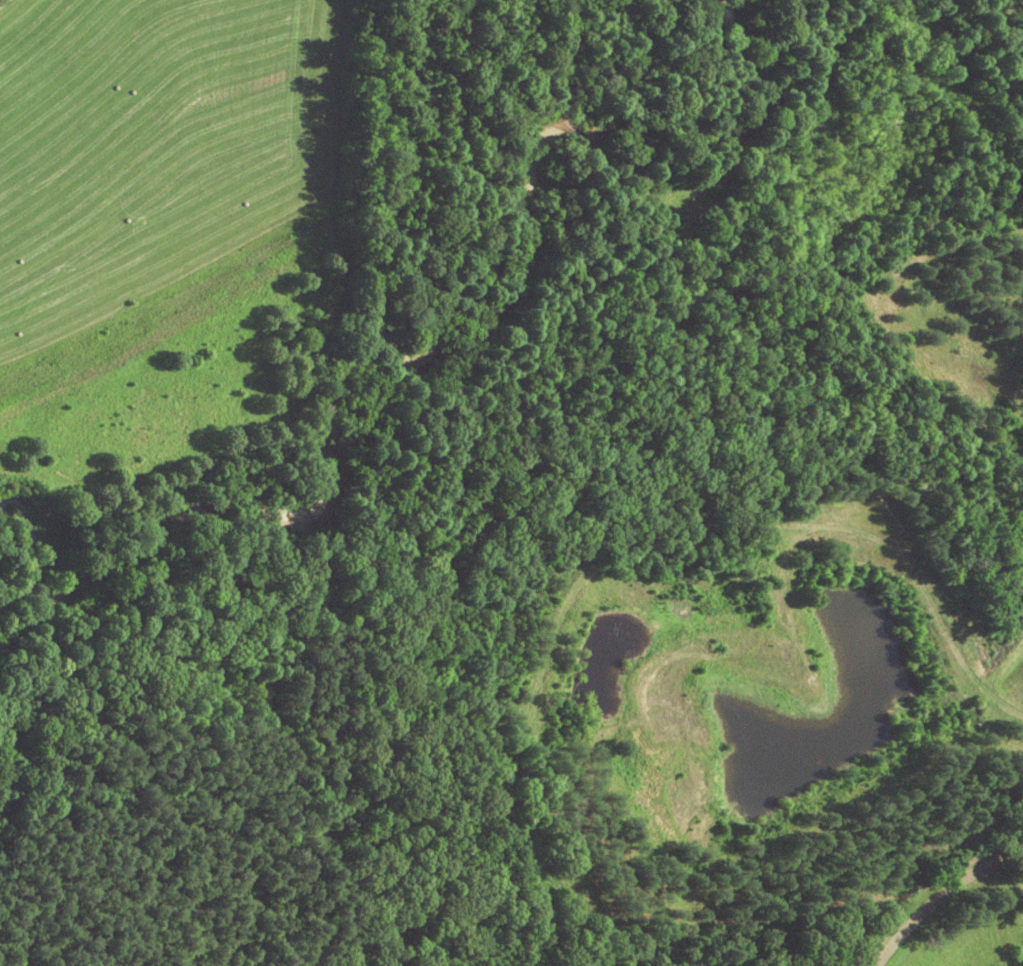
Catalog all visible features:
building: (746, 505)
road: (910, 864)

